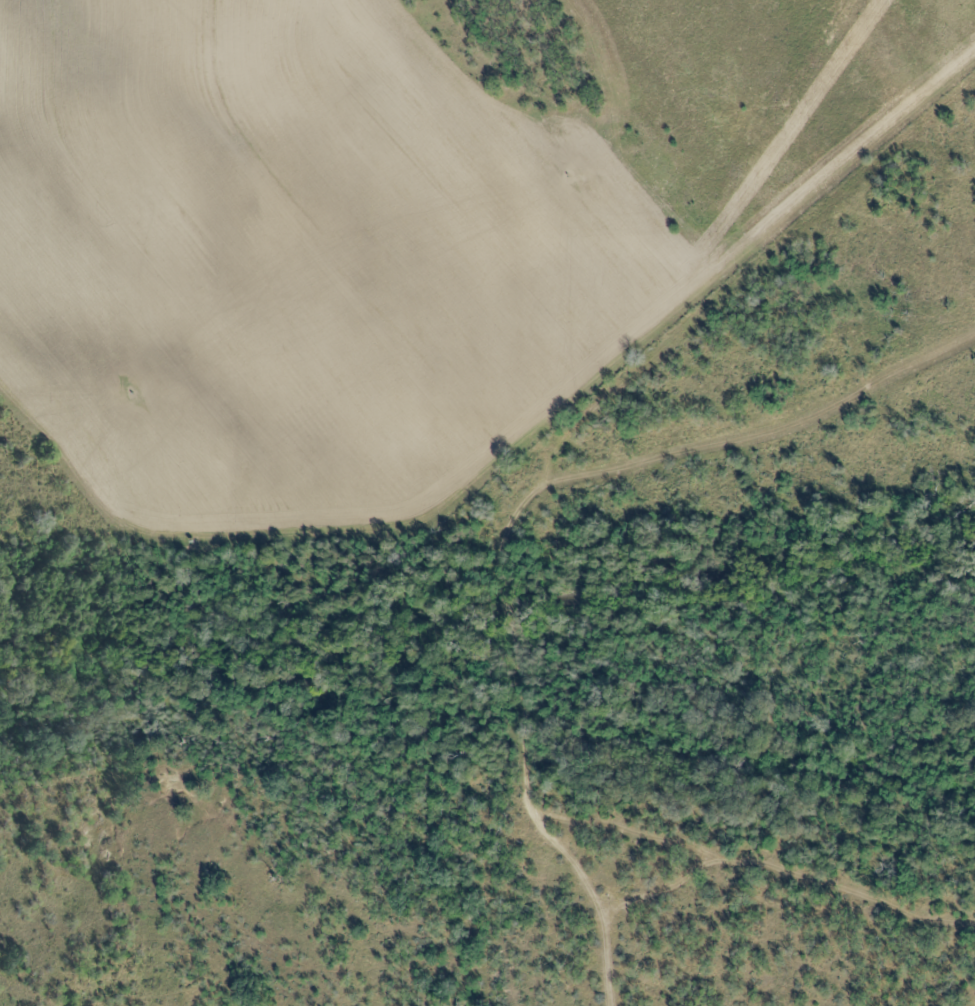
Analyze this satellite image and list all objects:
river: (659, 589)
river: (173, 666)

